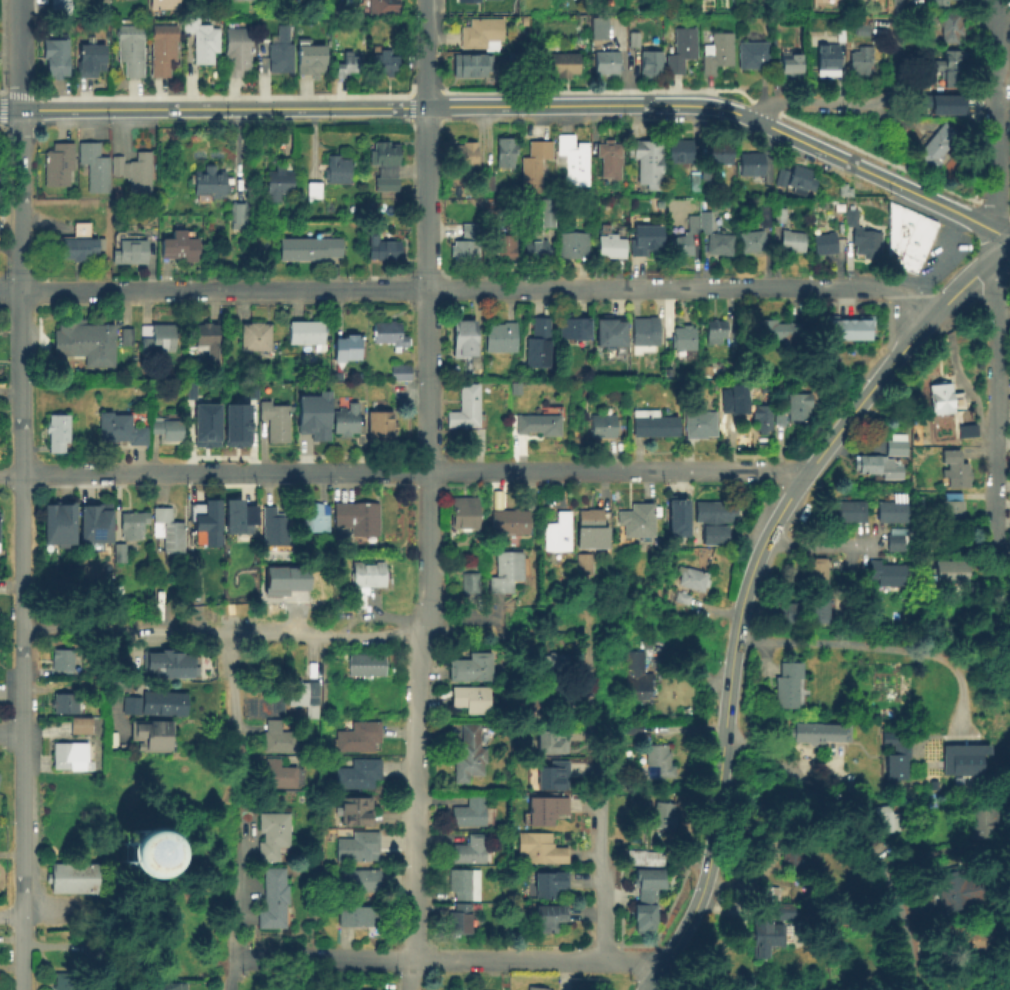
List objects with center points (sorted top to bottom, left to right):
building: (464, 0)
building: (826, 1)
building: (940, 2)
building: (165, 3)
building: (383, 6)
building: (58, 8)
building: (928, 16)
building: (595, 28)
building: (949, 28)
building: (858, 29)
building: (261, 31)
building: (481, 31)
building: (837, 35)
building: (201, 41)
building: (630, 41)
road: (897, 46)
building: (162, 51)
building: (677, 51)
building: (129, 52)
road: (427, 52)
building: (279, 53)
building: (713, 53)
road: (19, 54)
building: (236, 54)
building: (749, 55)
building: (56, 58)
building: (856, 58)
building: (823, 59)
building: (309, 60)
building: (516, 60)
building: (90, 62)
building: (550, 62)
building: (384, 64)
building: (602, 64)
building: (785, 64)
building: (348, 66)
building: (646, 66)
building: (471, 67)
building: (950, 69)
road: (579, 103)
building: (945, 103)
road: (812, 104)
road: (223, 106)
traffic signals: (4, 108)
road: (9, 108)
traffic signals: (36, 108)
road: (996, 115)
road: (877, 123)
building: (926, 149)
road: (427, 151)
building: (499, 152)
building: (676, 152)
building: (716, 153)
building: (465, 157)
road: (878, 157)
building: (569, 160)
building: (604, 161)
building: (641, 164)
building: (747, 164)
building: (530, 165)
building: (57, 166)
building: (384, 167)
building: (93, 168)
road: (860, 168)
building: (336, 172)
building: (134, 173)
building: (700, 176)
building: (792, 178)
building: (484, 182)
building: (690, 182)
building: (278, 183)
building: (208, 185)
building: (840, 191)
building: (312, 192)
road: (19, 199)
building: (841, 207)
building: (236, 211)
building: (547, 211)
building: (783, 214)
building: (765, 215)
building: (852, 216)
building: (705, 221)
building: (489, 224)
building: (471, 229)
building: (905, 236)
road: (996, 237)
building: (684, 238)
building: (645, 239)
building: (753, 240)
building: (792, 240)
building: (867, 241)
building: (79, 242)
building: (720, 242)
building: (825, 242)
road: (1006, 243)
building: (179, 245)
building: (574, 245)
building: (611, 245)
building: (382, 247)
building: (505, 248)
building: (536, 249)
building: (307, 250)
building: (465, 250)
building: (131, 251)
parking lot: (938, 256)
road: (932, 266)
road: (616, 288)
road: (871, 288)
road: (347, 289)
road: (395, 289)
road: (174, 290)
road: (10, 291)
road: (990, 314)
building: (572, 327)
building: (832, 327)
building: (858, 327)
building: (608, 330)
building: (645, 330)
building: (715, 330)
building: (777, 330)
building: (306, 332)
building: (389, 333)
building: (128, 335)
building: (255, 335)
building: (501, 335)
building: (463, 336)
building: (157, 337)
building: (684, 337)
building: (208, 340)
building: (538, 342)
building: (85, 343)
building: (349, 347)
building: (400, 371)
building: (188, 389)
building: (249, 389)
building: (733, 398)
building: (939, 399)
building: (794, 406)
building: (465, 407)
building: (315, 415)
building: (760, 417)
building: (346, 419)
building: (275, 421)
building: (539, 423)
building: (654, 423)
building: (701, 423)
building: (204, 424)
building: (234, 424)
building: (603, 425)
building: (380, 426)
building: (168, 427)
building: (120, 430)
building: (962, 432)
building: (56, 433)
building: (896, 445)
road: (991, 461)
building: (870, 465)
road: (455, 469)
road: (645, 469)
road: (375, 470)
building: (955, 470)
road: (281, 471)
road: (308, 471)
road: (237, 472)
road: (164, 473)
road: (72, 475)
road: (10, 476)
building: (850, 510)
building: (892, 510)
building: (953, 511)
building: (464, 512)
building: (677, 514)
building: (236, 516)
building: (358, 516)
building: (313, 517)
building: (715, 517)
building: (638, 519)
building: (57, 520)
building: (509, 520)
building: (206, 521)
building: (93, 522)
building: (133, 525)
building: (274, 526)
building: (589, 529)
building: (170, 531)
building: (559, 532)
building: (897, 541)
road: (815, 546)
building: (121, 552)
building: (584, 564)
building: (368, 572)
building: (816, 572)
building: (507, 573)
building: (951, 574)
building: (889, 577)
building: (282, 578)
road: (426, 578)
building: (692, 580)
building: (471, 581)
road: (745, 582)
building: (818, 608)
building: (790, 615)
road: (458, 617)
road: (222, 635)
road: (21, 640)
road: (877, 646)
building: (62, 657)
building: (551, 663)
building: (366, 664)
building: (166, 665)
building: (471, 665)
building: (638, 673)
building: (789, 682)
building: (303, 692)
road: (232, 697)
building: (471, 697)
building: (544, 698)
building: (62, 702)
building: (155, 702)
building: (312, 711)
building: (81, 724)
building: (633, 726)
road: (10, 731)
building: (820, 733)
building: (152, 734)
building: (278, 736)
building: (359, 736)
building: (553, 736)
building: (896, 751)
building: (469, 753)
building: (69, 754)
building: (967, 755)
building: (658, 759)
building: (277, 773)
building: (359, 773)
building: (554, 773)
road: (133, 785)
road: (600, 800)
building: (546, 808)
building: (355, 811)
building: (470, 811)
building: (664, 812)
building: (885, 815)
building: (981, 816)
building: (272, 834)
park: (137, 837)
road: (854, 838)
road: (213, 844)
building: (359, 846)
building: (540, 847)
building: (469, 850)
building: (141, 852)
water tower: (146, 854)
building: (795, 854)
building: (643, 857)
building: (73, 877)
building: (360, 879)
road: (136, 880)
building: (550, 882)
building: (464, 883)
building: (954, 886)
building: (768, 891)
building: (273, 897)
building: (649, 898)
building: (783, 908)
road: (10, 914)
building: (354, 915)
building: (550, 916)
building: (460, 917)
building: (855, 917)
road: (234, 924)
building: (764, 931)
building: (966, 937)
road: (445, 959)
road: (408, 974)
building: (64, 980)
building: (163, 987)
building: (539, 988)
building: (270, 989)
building: (343, 989)

